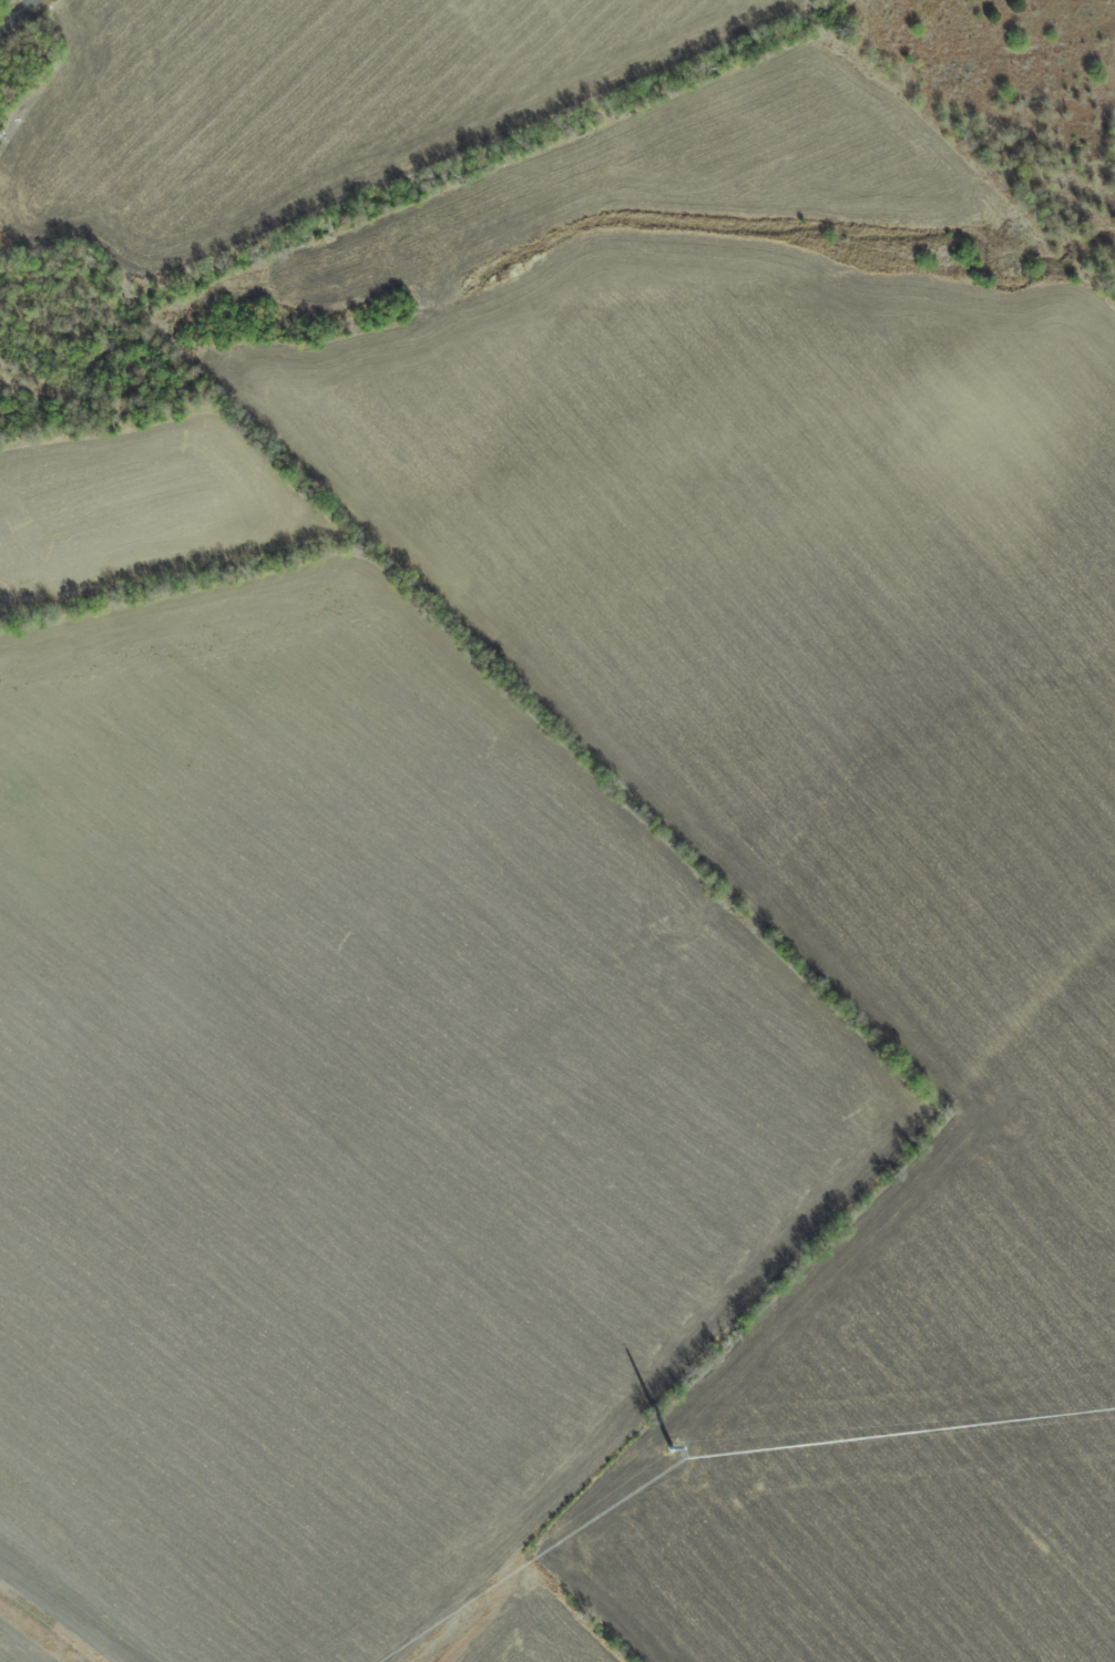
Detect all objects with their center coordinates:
road: (18, 14)
power tower: (661, 1454)

